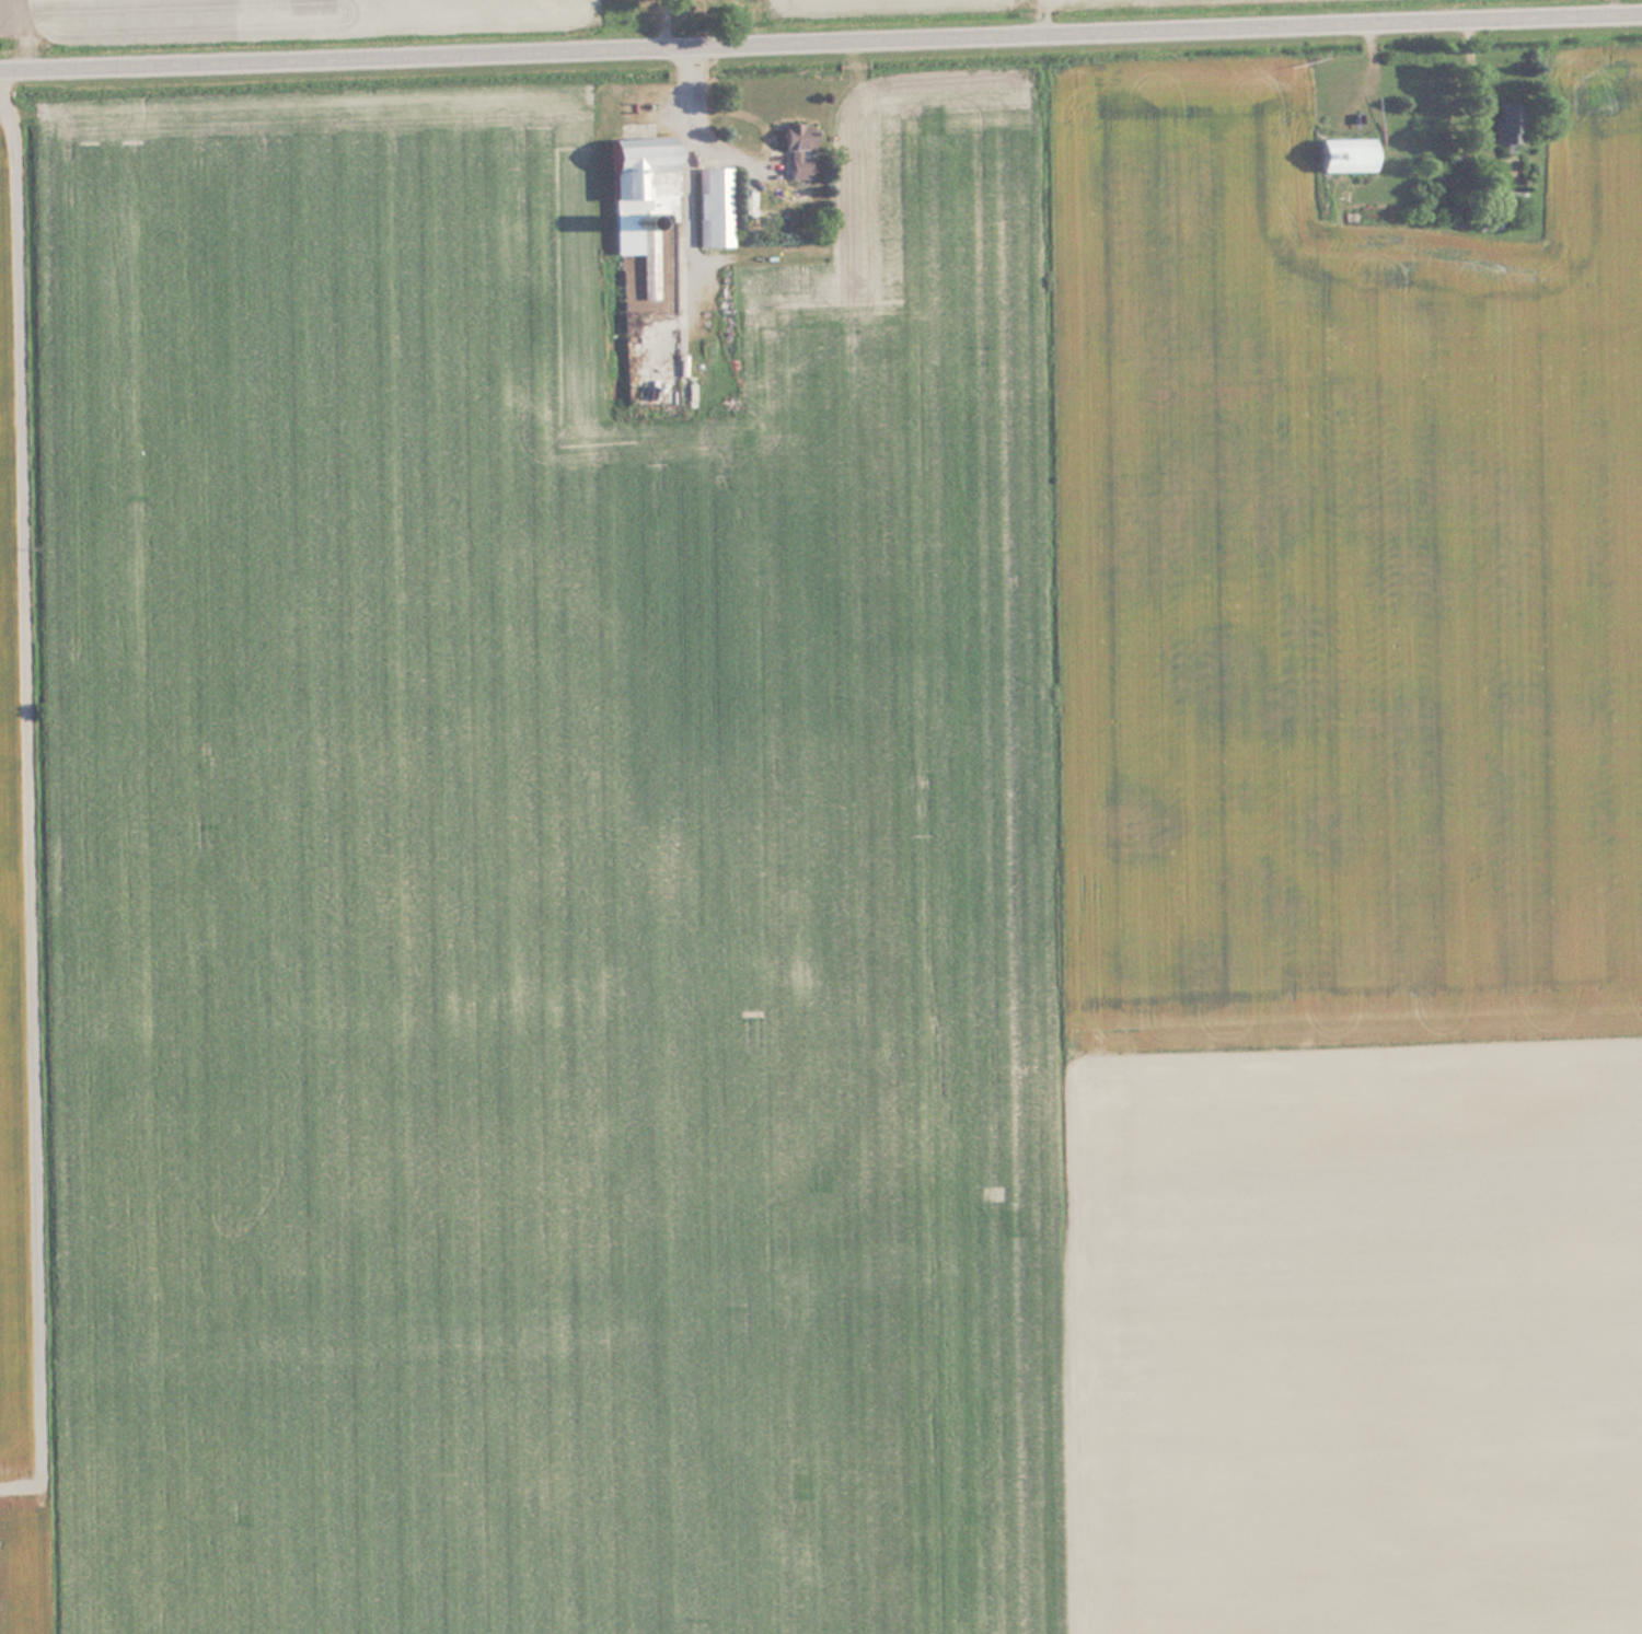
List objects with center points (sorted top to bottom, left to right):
road: (821, 37)
building: (1504, 124)
building: (795, 148)
building: (1343, 154)
building: (641, 184)
building: (714, 207)
road: (36, 796)

